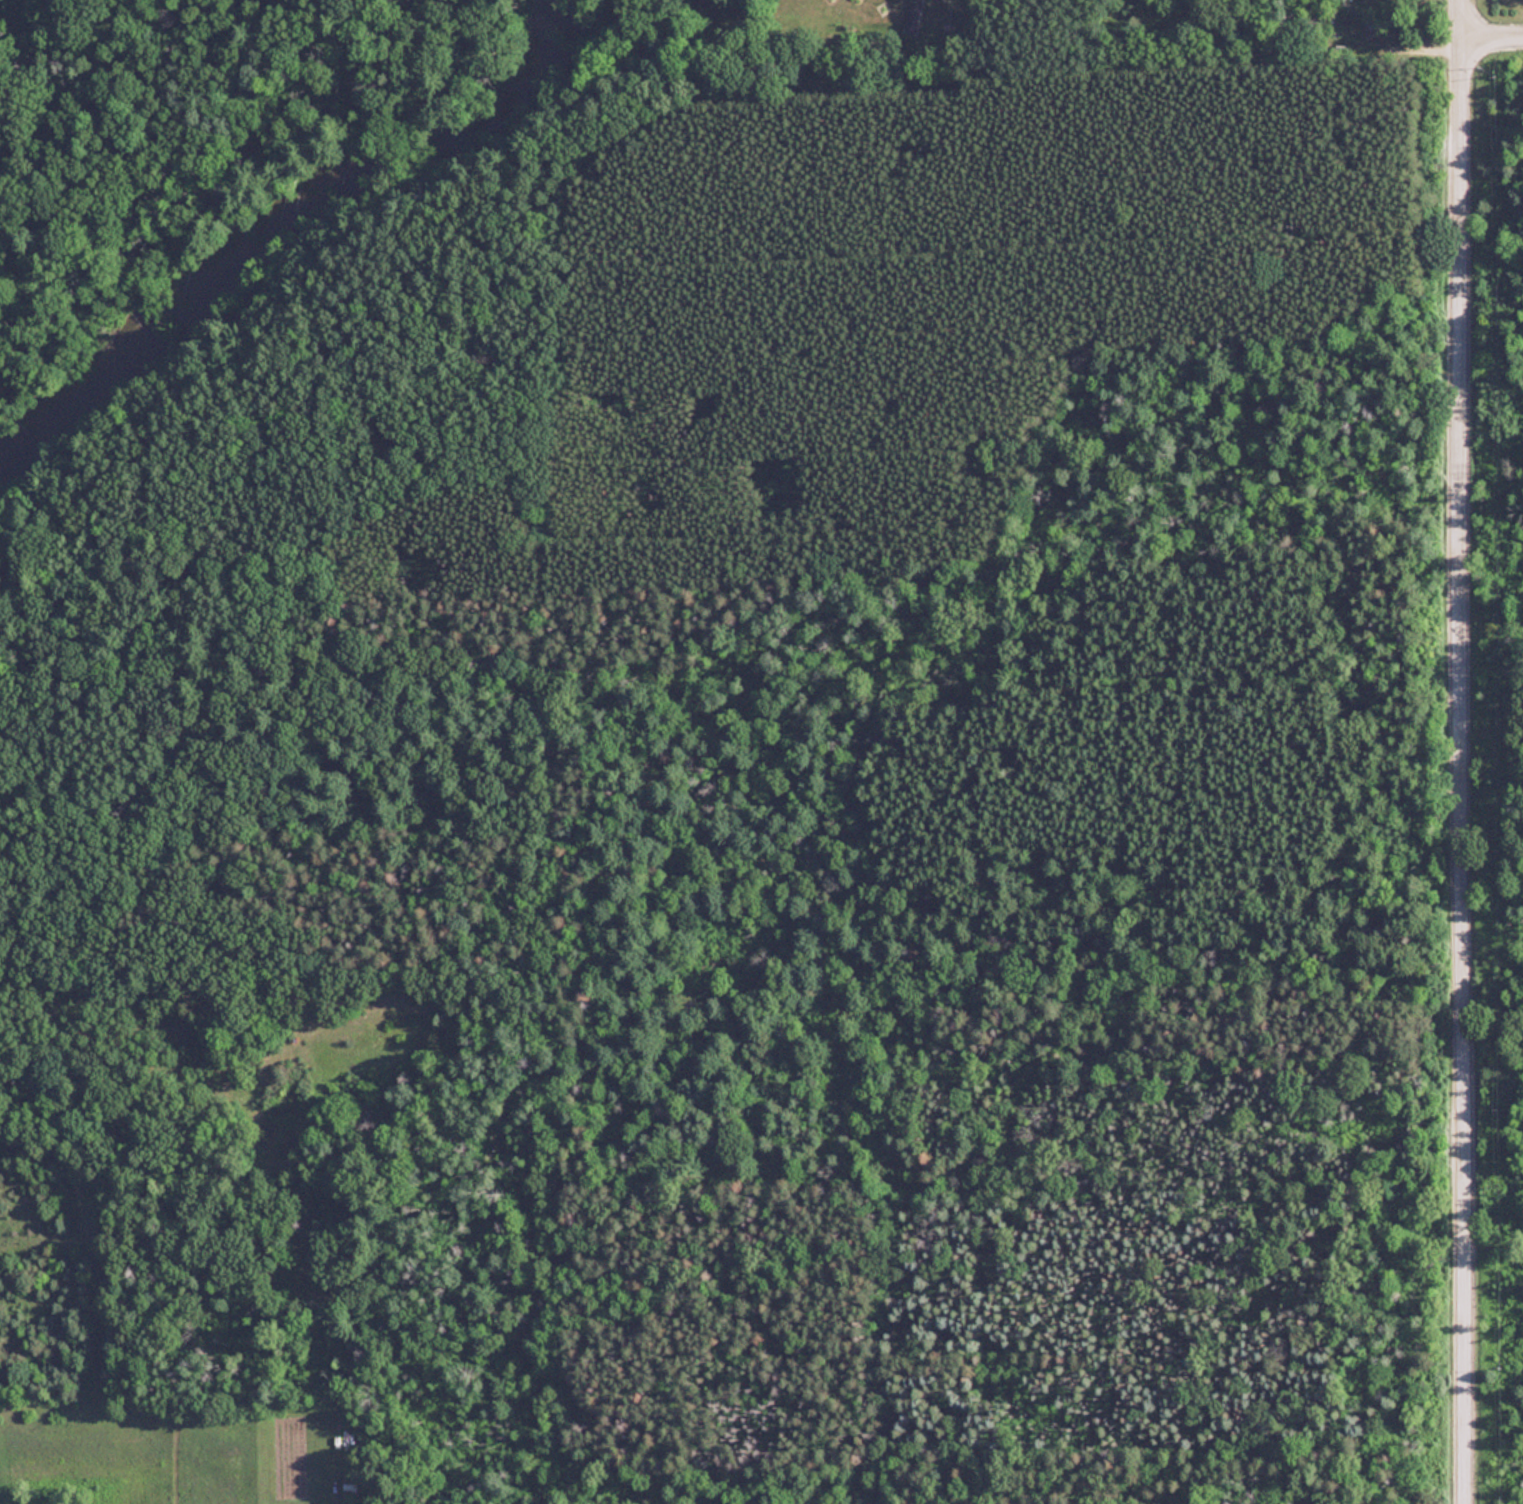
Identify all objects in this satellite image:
road: (1490, 32)
road: (150, 148)
river: (291, 238)
road: (1461, 751)

